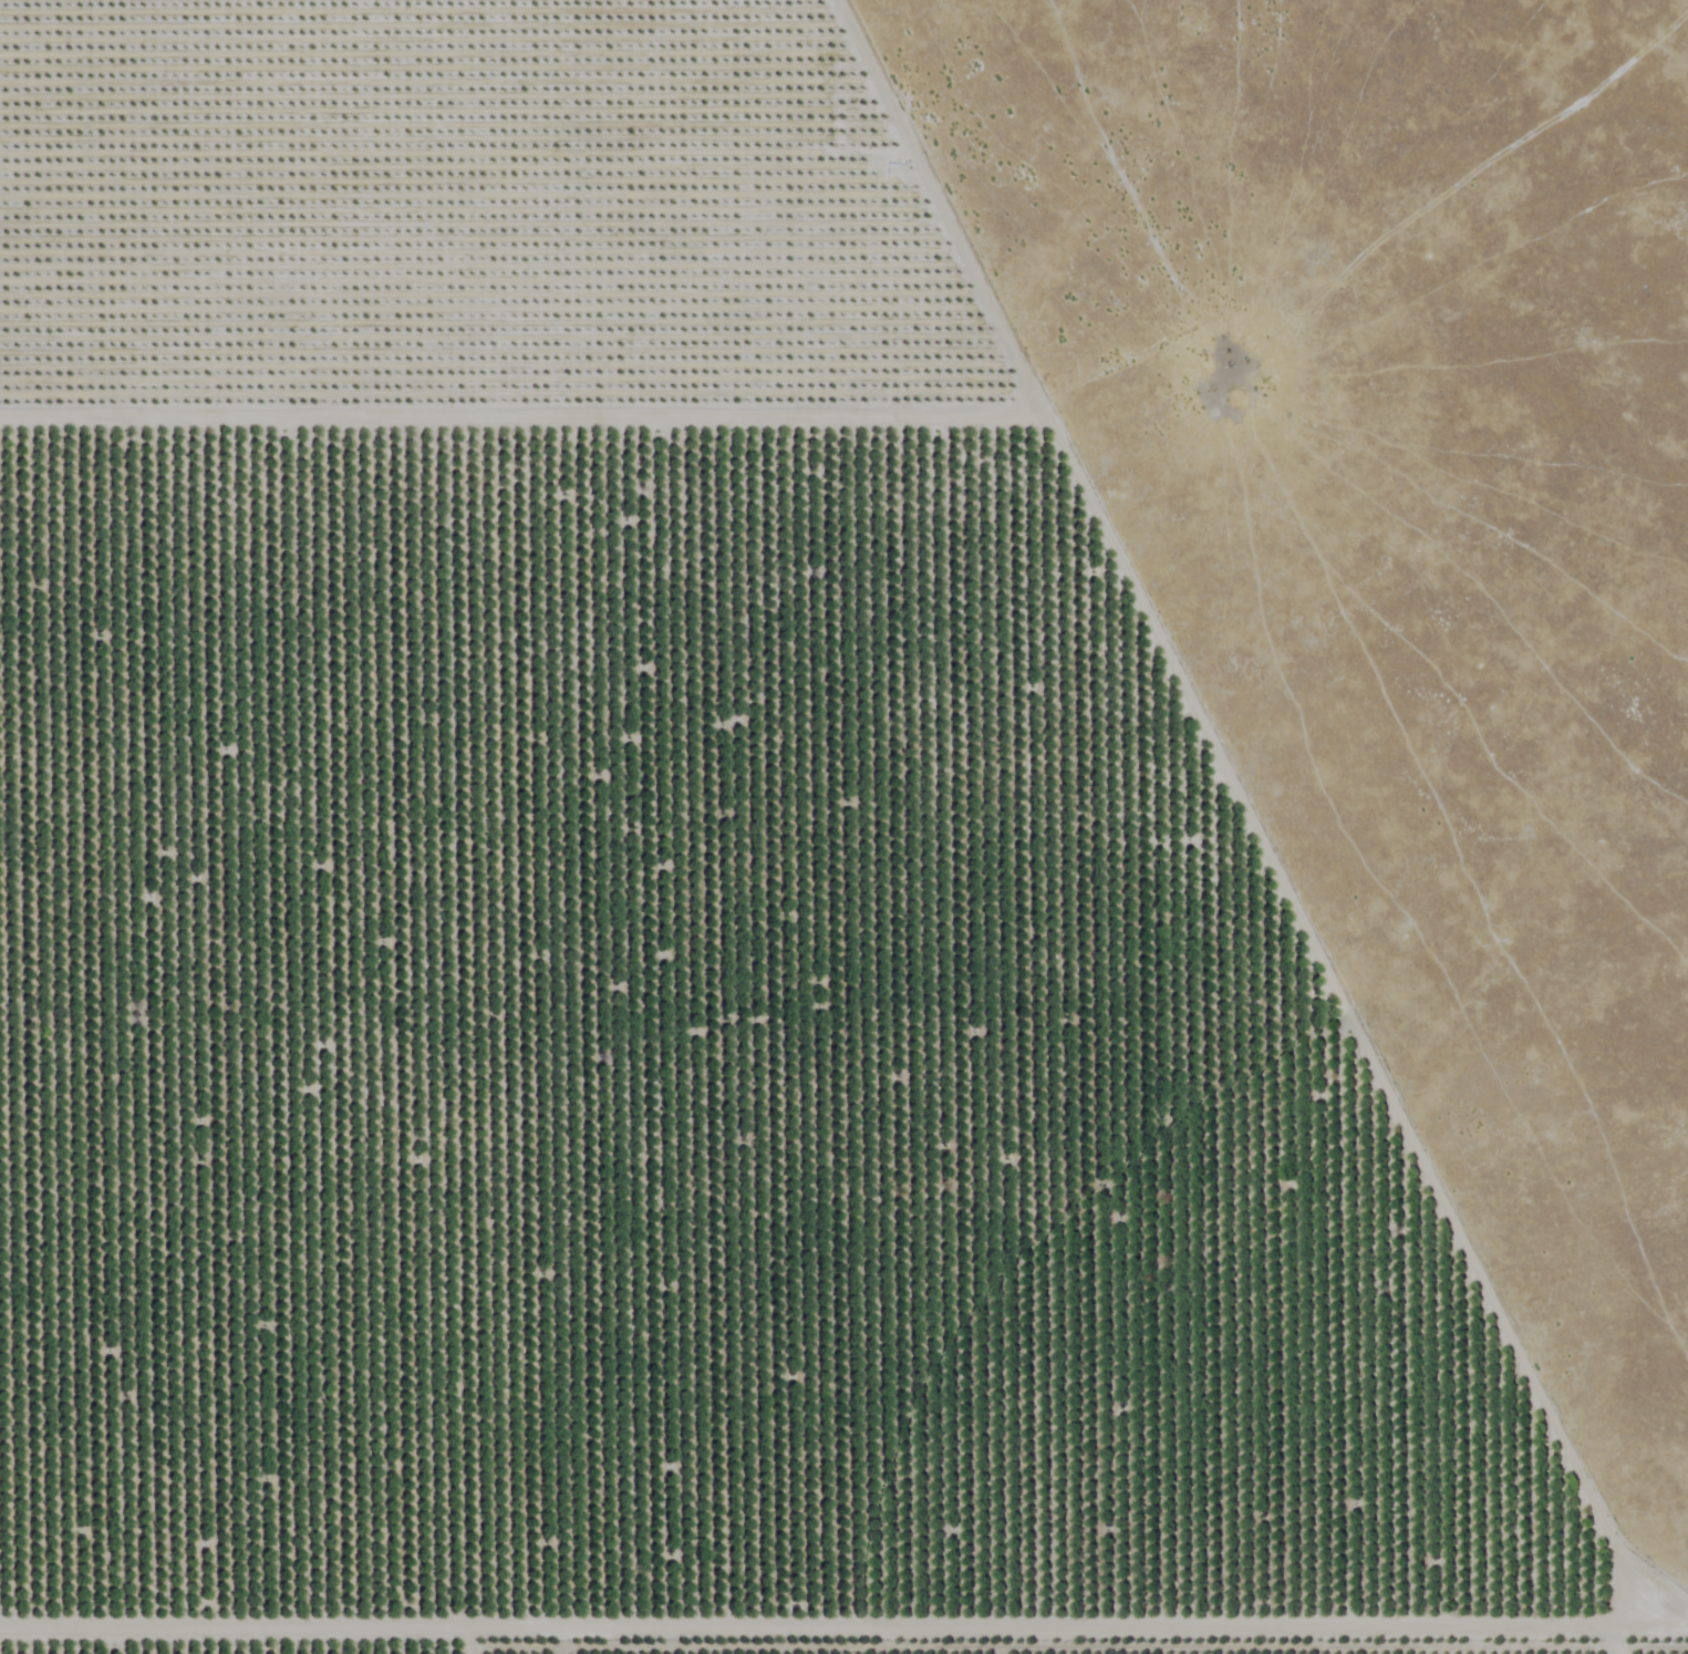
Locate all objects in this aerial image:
crop: (653, 918)

